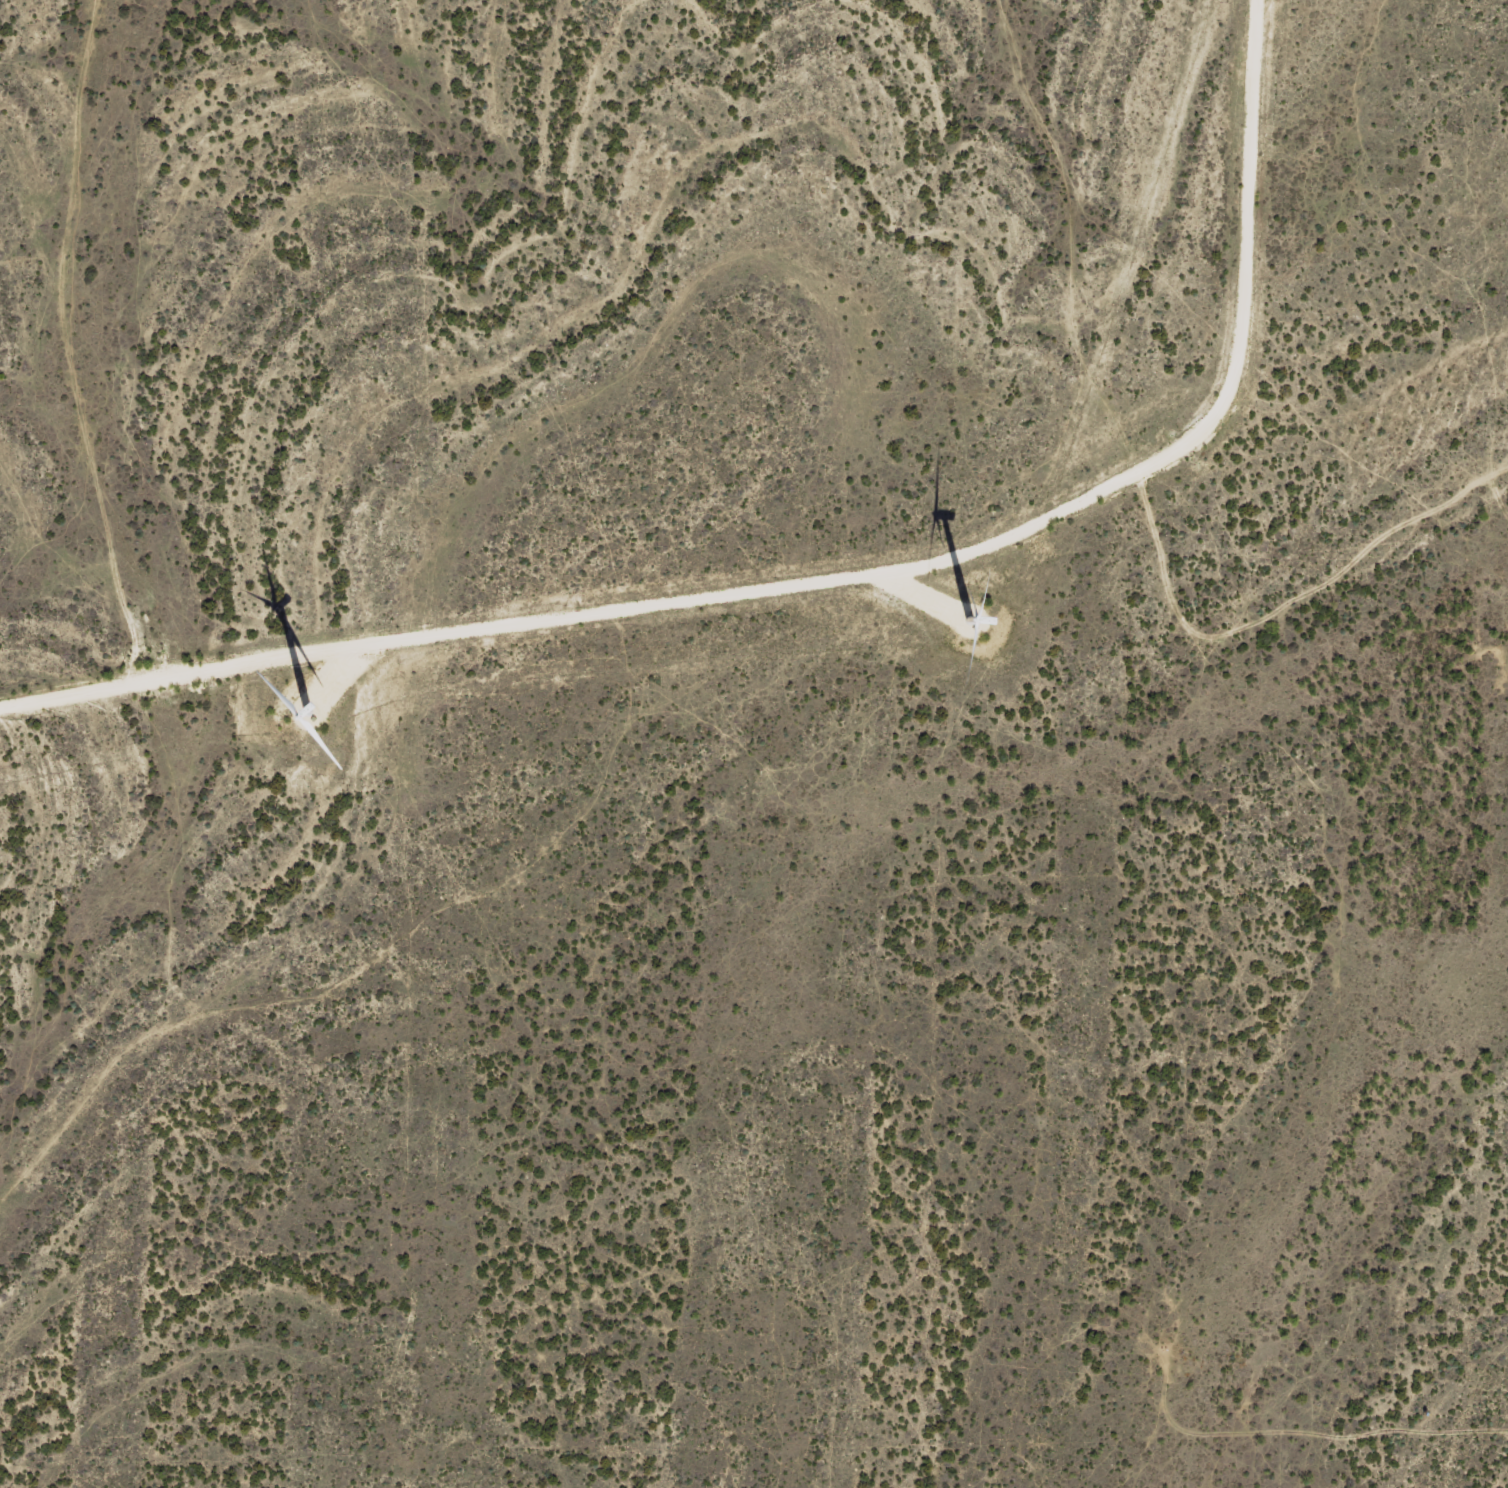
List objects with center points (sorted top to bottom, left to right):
road: (834, 578)
wind turbine: (967, 612)
wind turbine: (291, 706)

